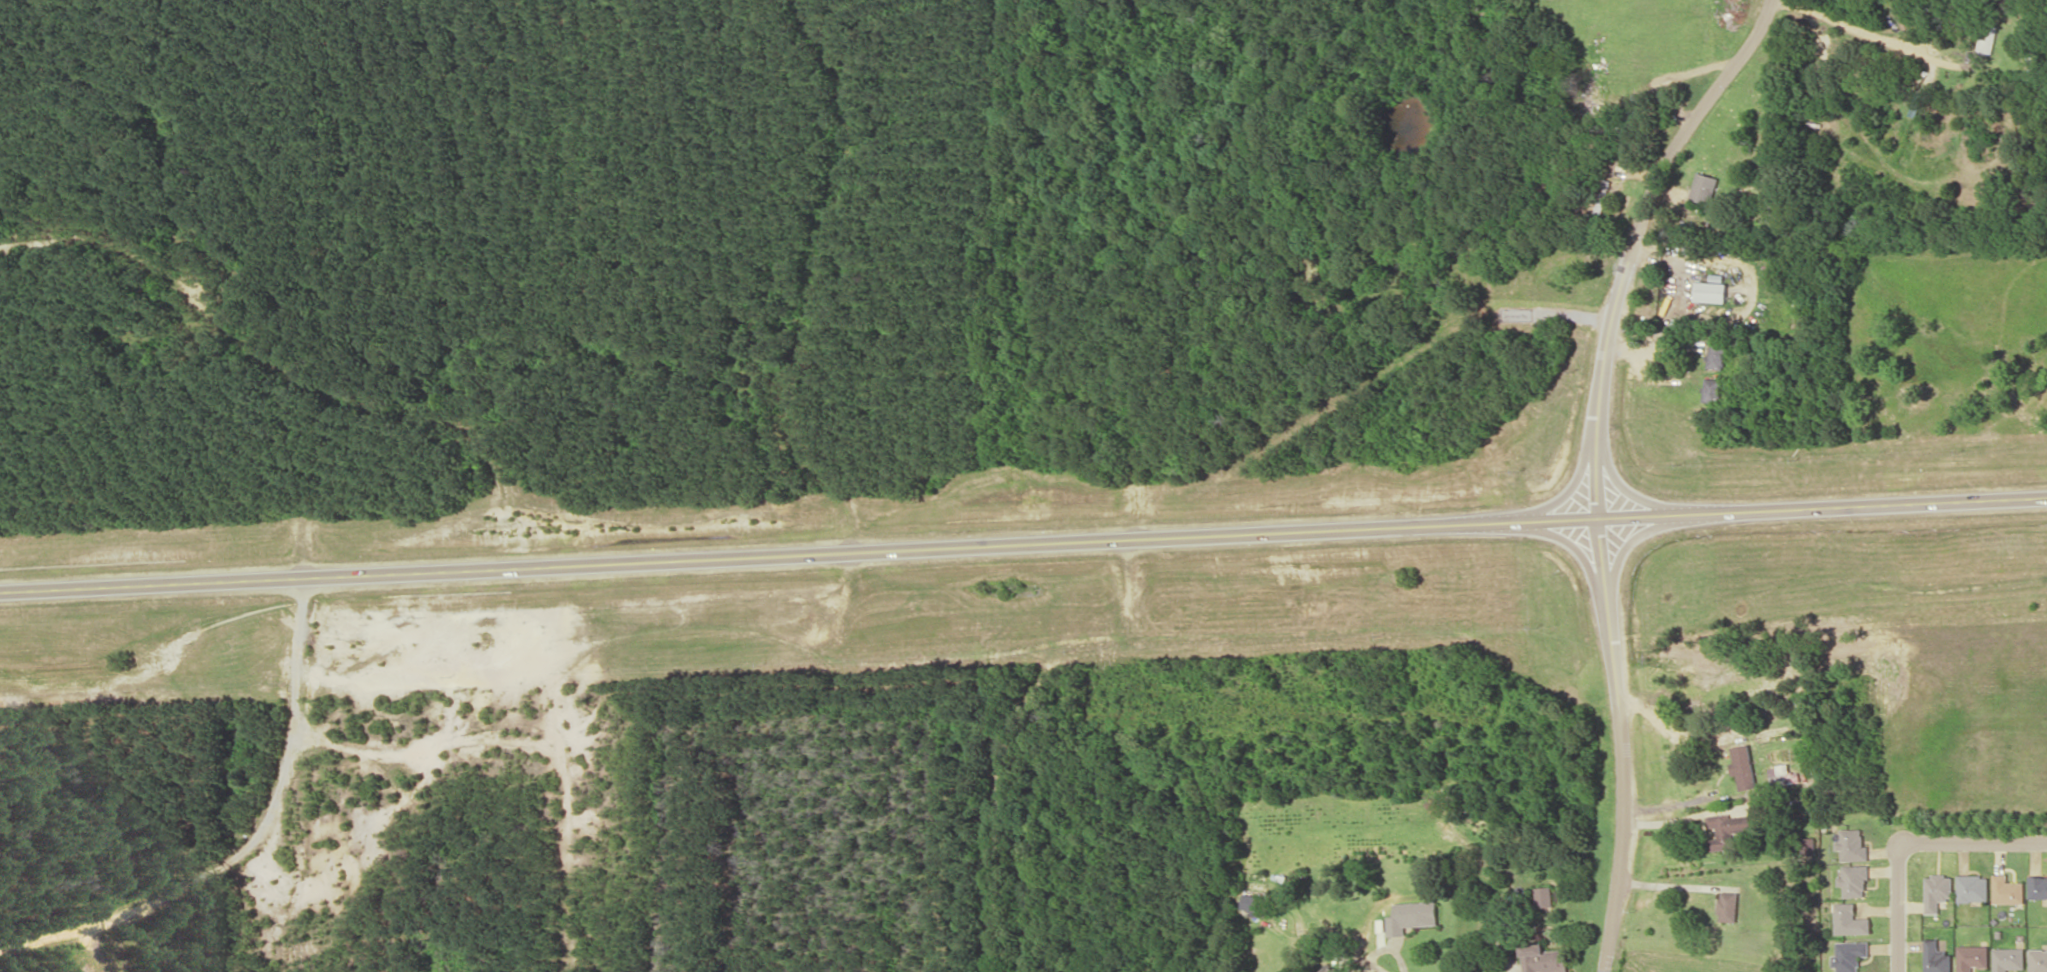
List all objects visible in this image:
building: (1632, 113)
building: (1704, 187)
building: (1711, 291)
building: (1716, 354)
building: (1711, 389)
road: (1598, 465)
road: (1023, 545)
building: (1743, 766)
building: (1780, 773)
building: (1727, 828)
road: (1910, 843)
building: (1851, 844)
building: (1810, 845)
building: (1852, 880)
building: (2037, 886)
building: (1972, 888)
building: (2007, 890)
building: (1936, 891)
building: (1544, 896)
building: (1252, 902)
building: (1727, 905)
building: (1410, 916)
building: (1848, 919)
building: (1849, 955)
building: (1935, 957)
building: (1971, 957)
building: (1543, 958)
building: (2008, 958)
building: (2037, 960)
building: (1325, 970)

